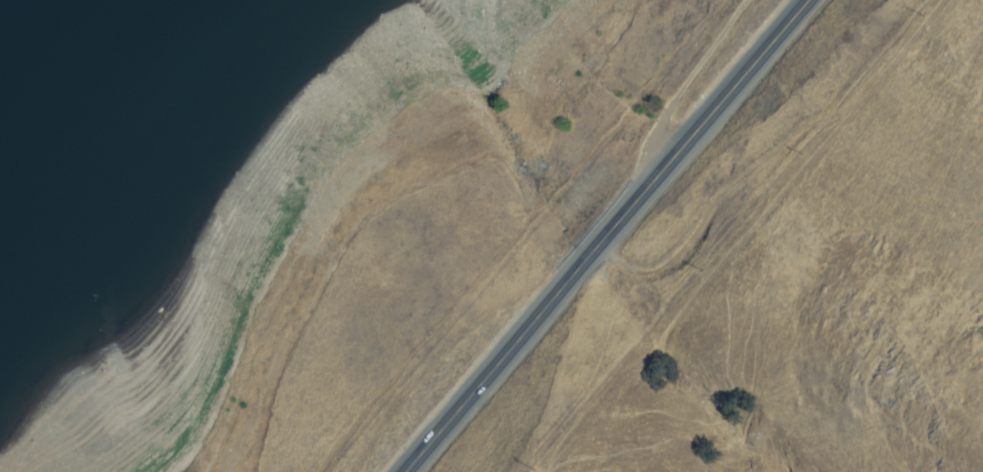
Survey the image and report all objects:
road: (606, 235)

